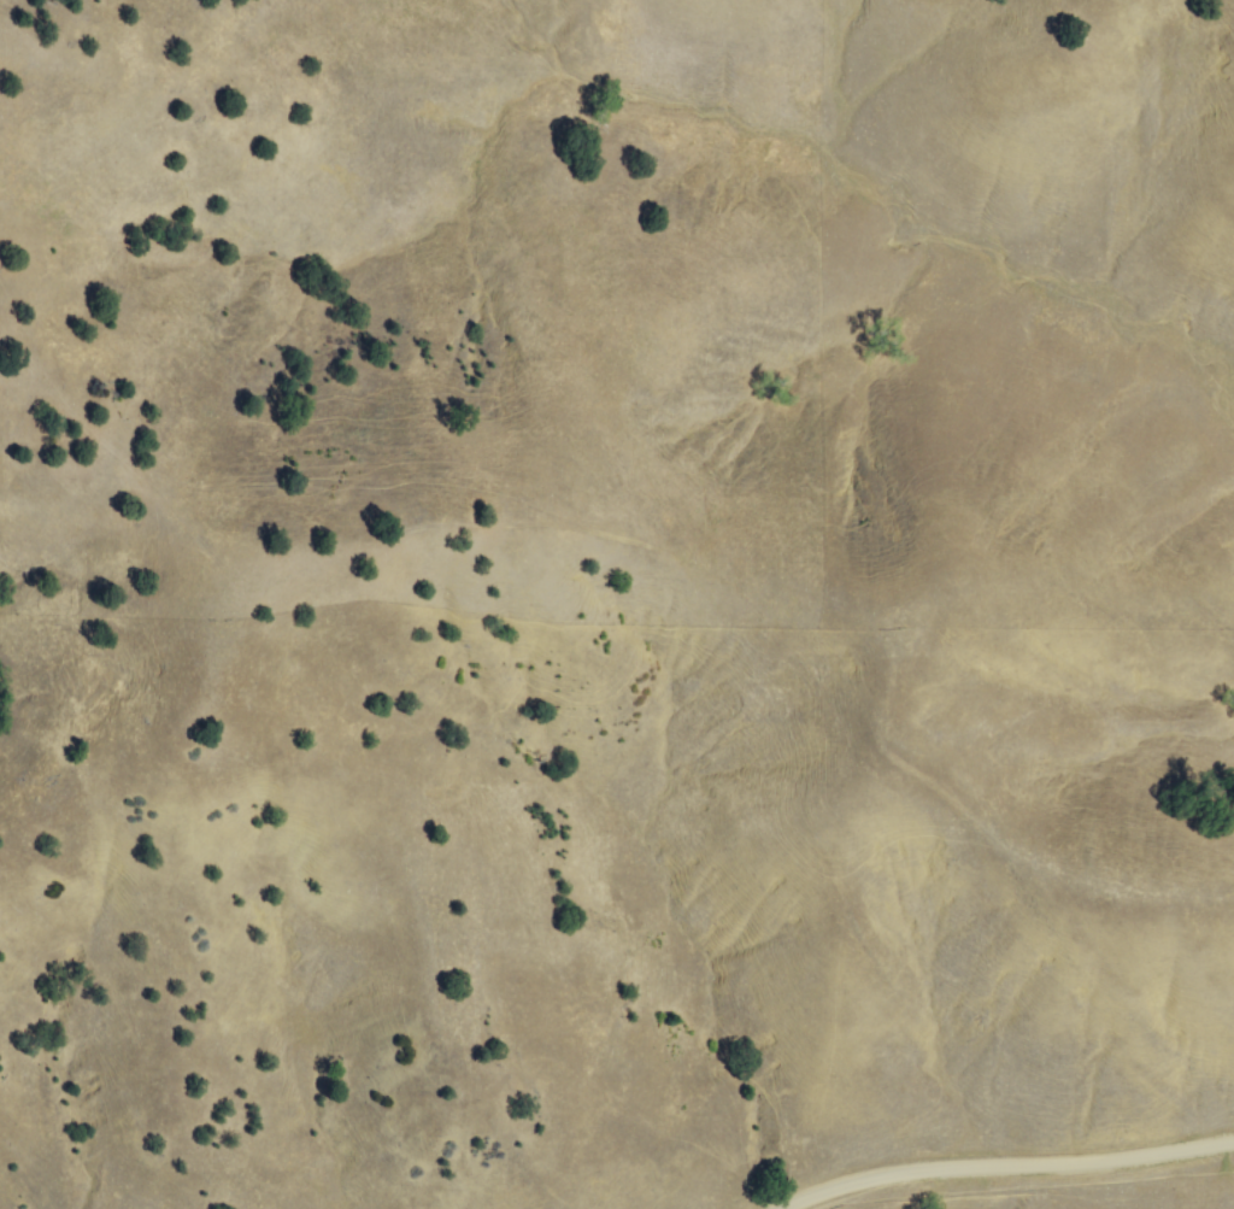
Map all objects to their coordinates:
road: (1011, 1167)

